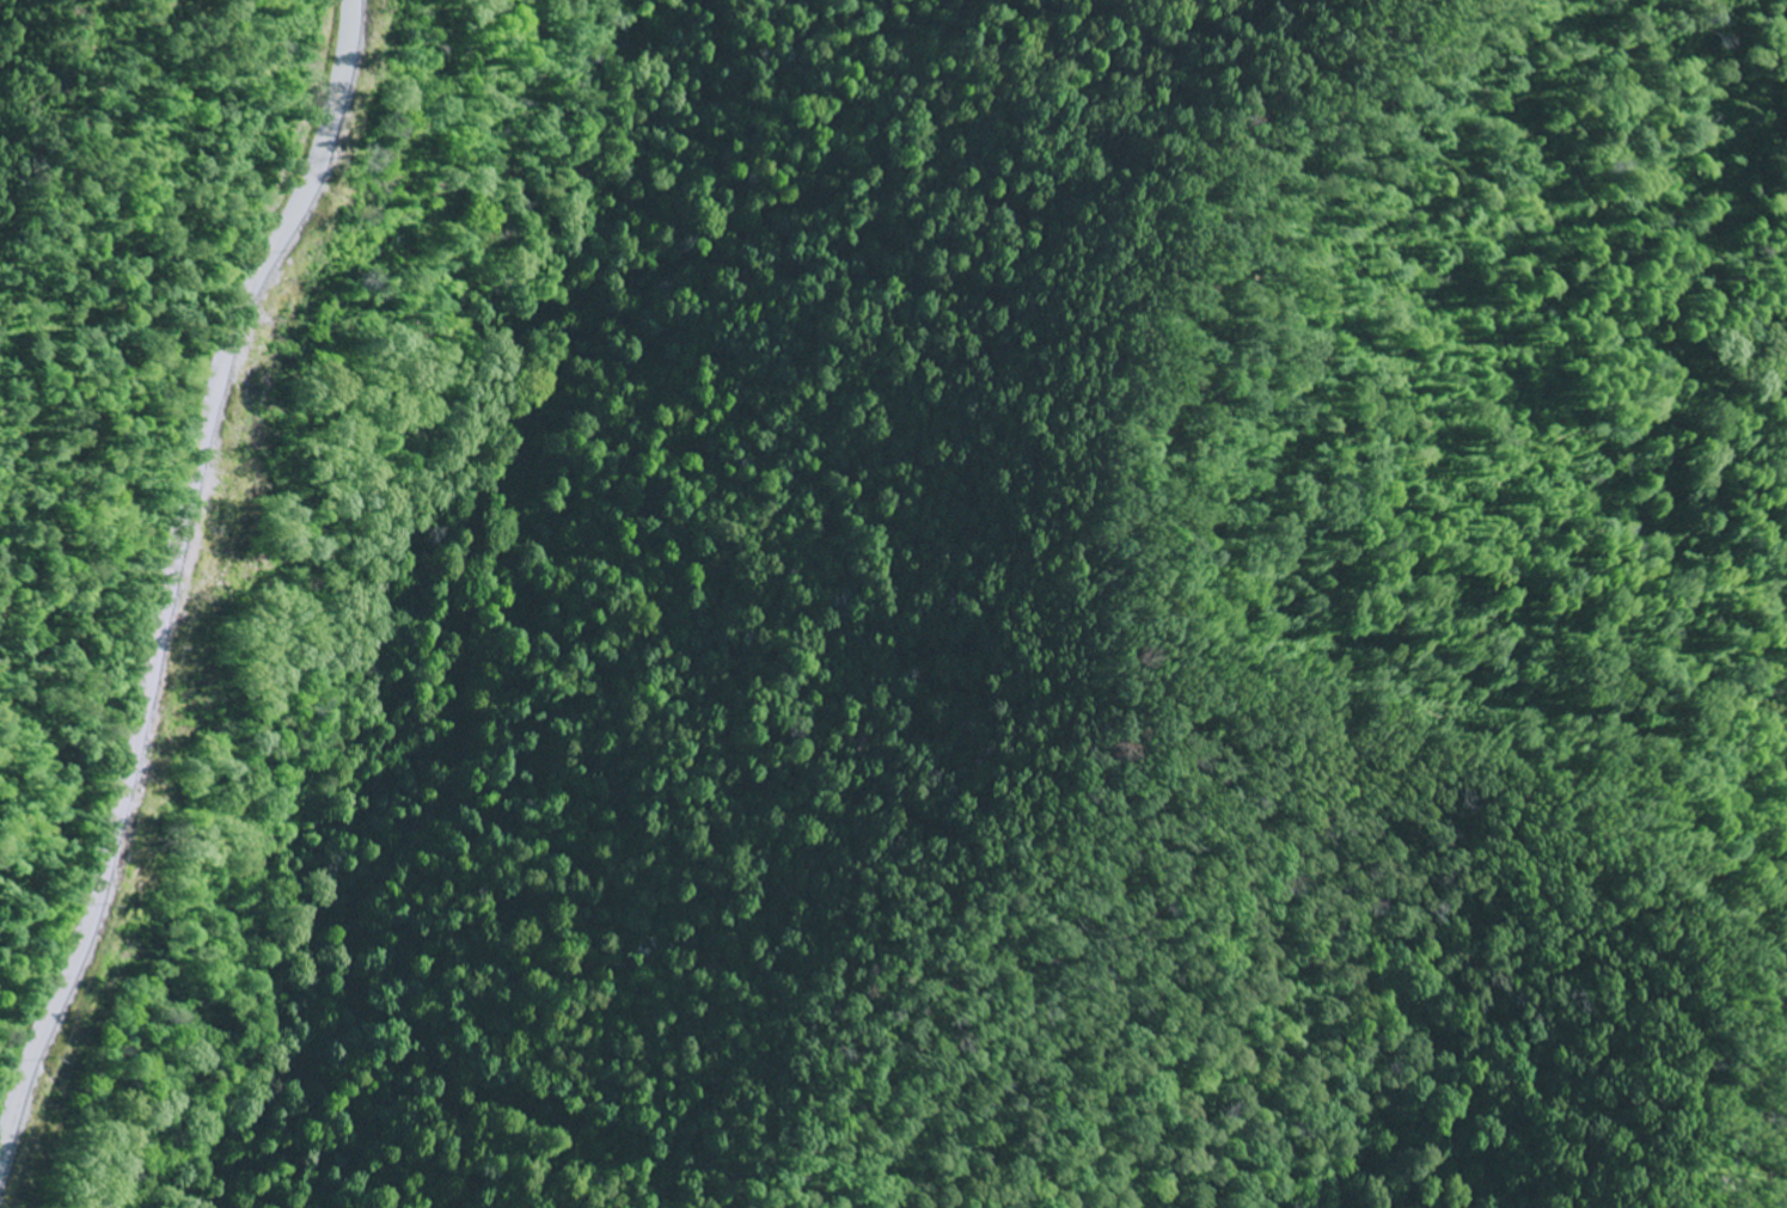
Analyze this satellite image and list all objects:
road: (169, 587)

